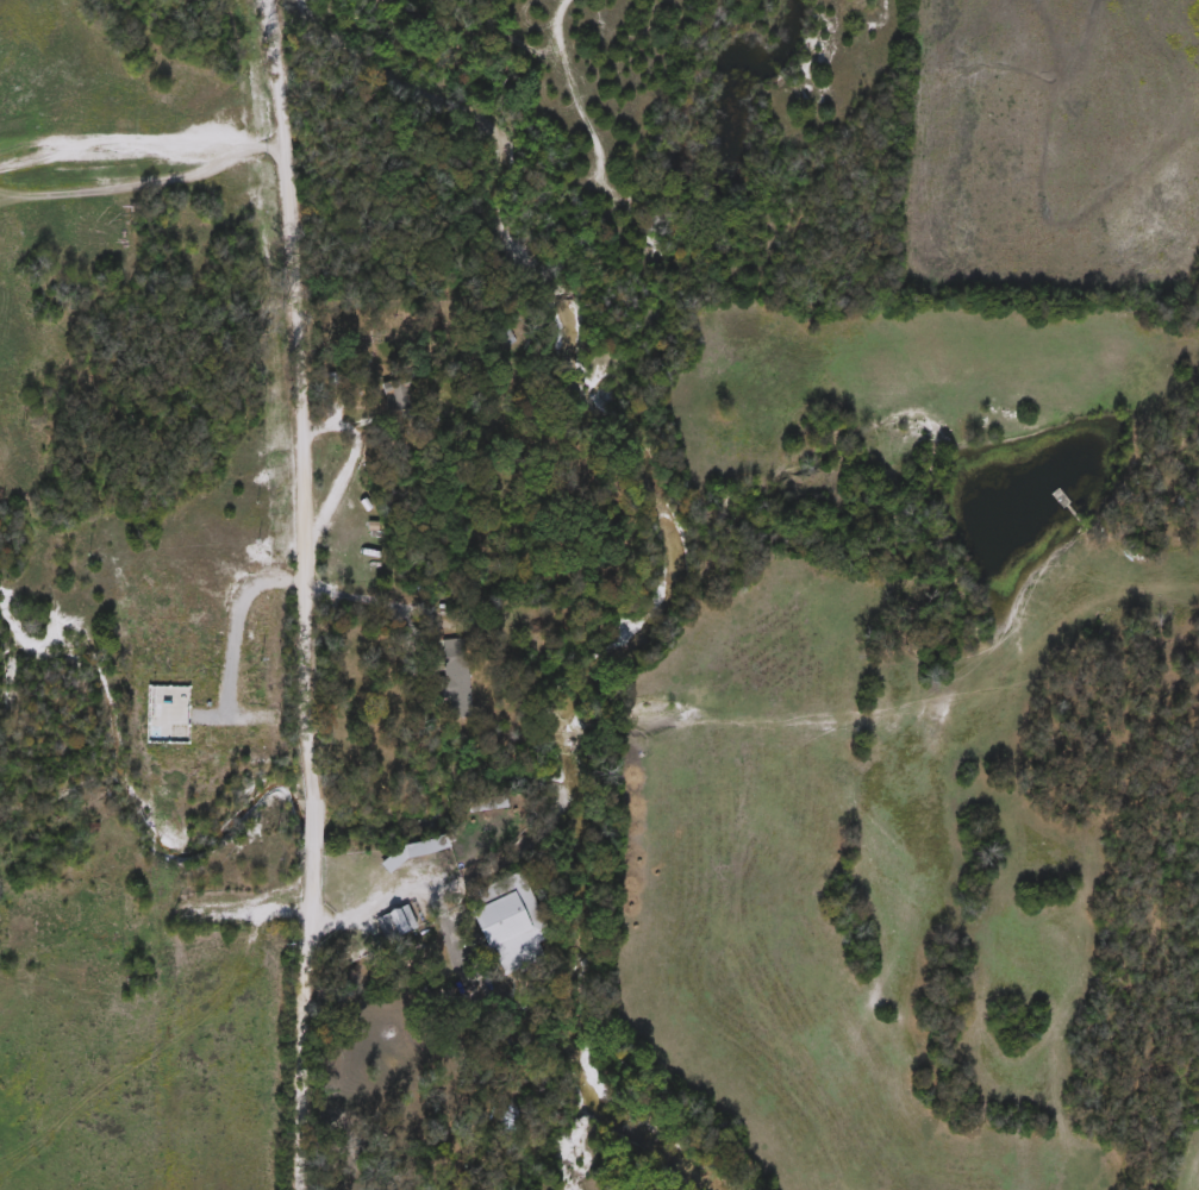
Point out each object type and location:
road: (298, 593)
road: (375, 605)
building: (416, 850)
road: (373, 904)
building: (406, 919)
building: (511, 927)

